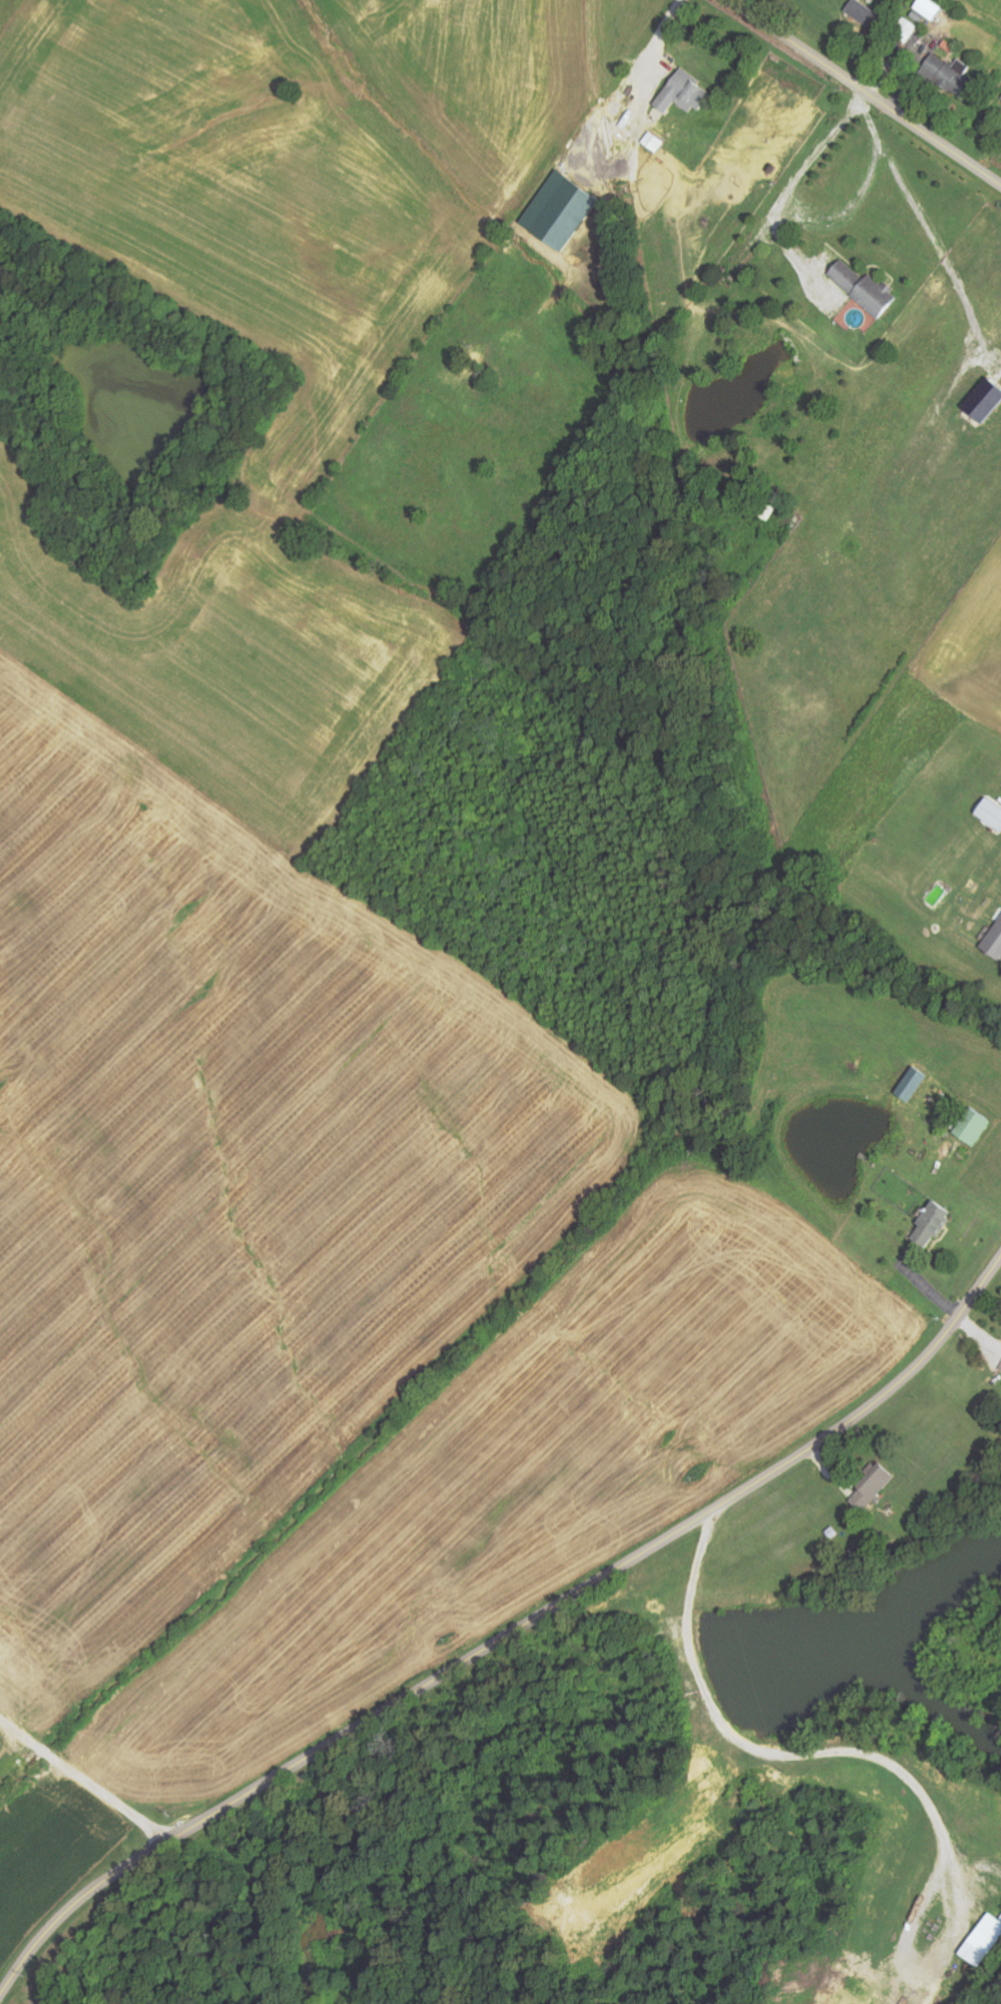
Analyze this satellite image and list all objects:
building: (932, 8)
building: (864, 12)
building: (910, 30)
building: (955, 74)
road: (865, 92)
building: (686, 93)
road: (793, 187)
building: (565, 210)
building: (868, 289)
building: (988, 400)
building: (992, 813)
building: (995, 943)
building: (976, 1127)
building: (935, 1225)
building: (878, 1490)
road: (508, 1636)
road: (777, 1756)
road: (87, 1779)

